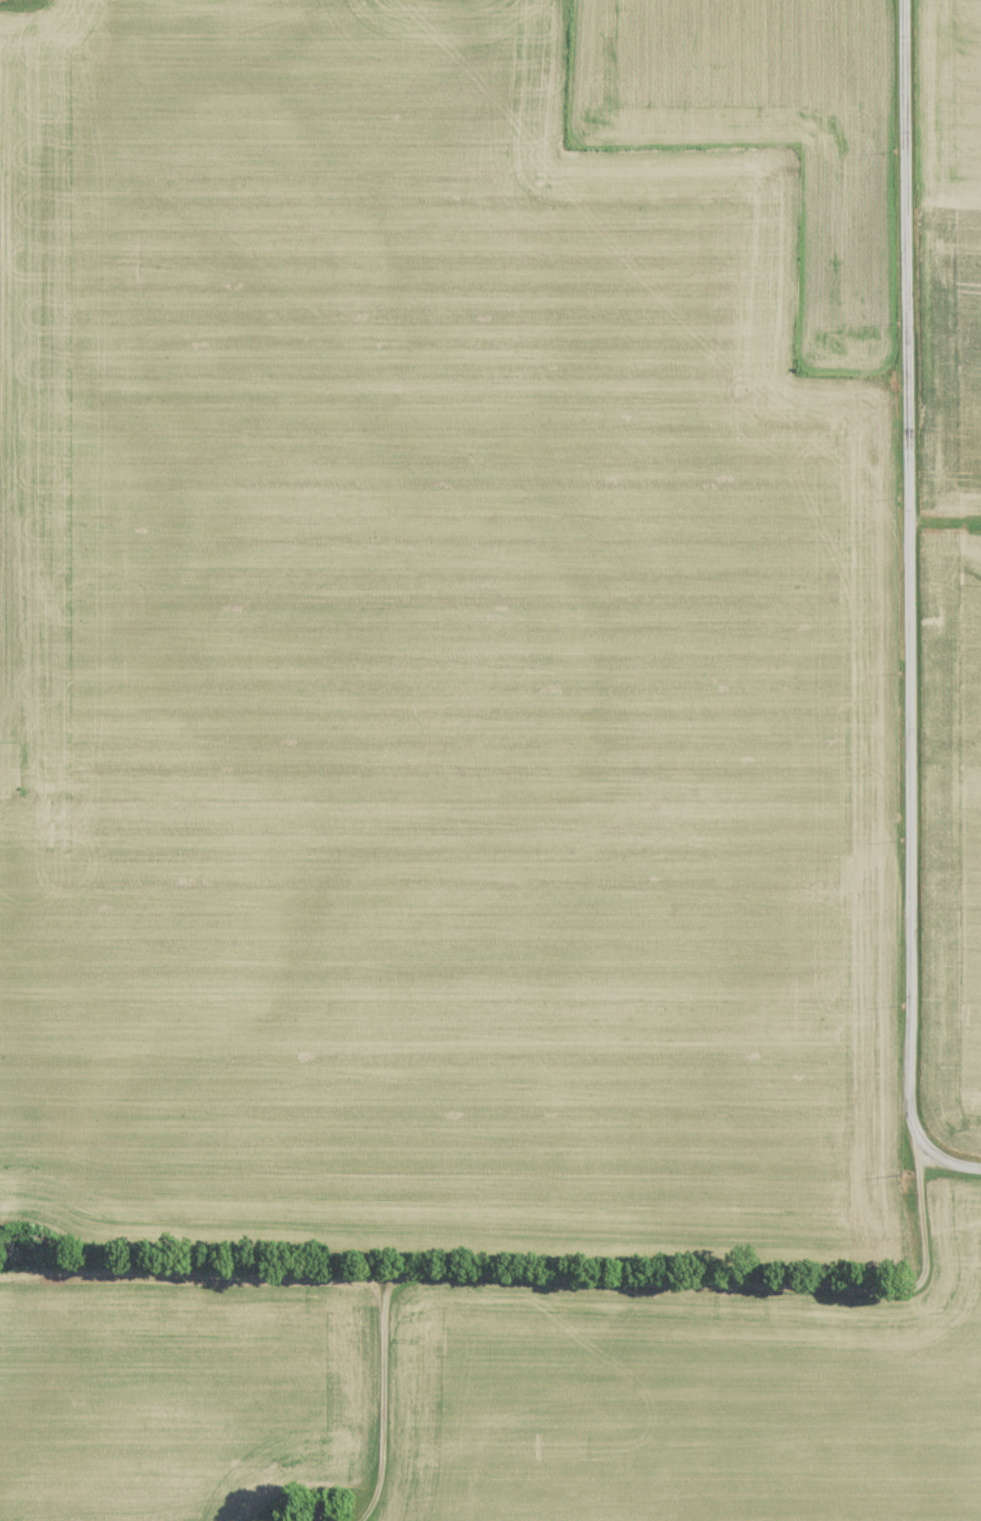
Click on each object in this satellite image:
road: (911, 603)
road: (593, 1274)

